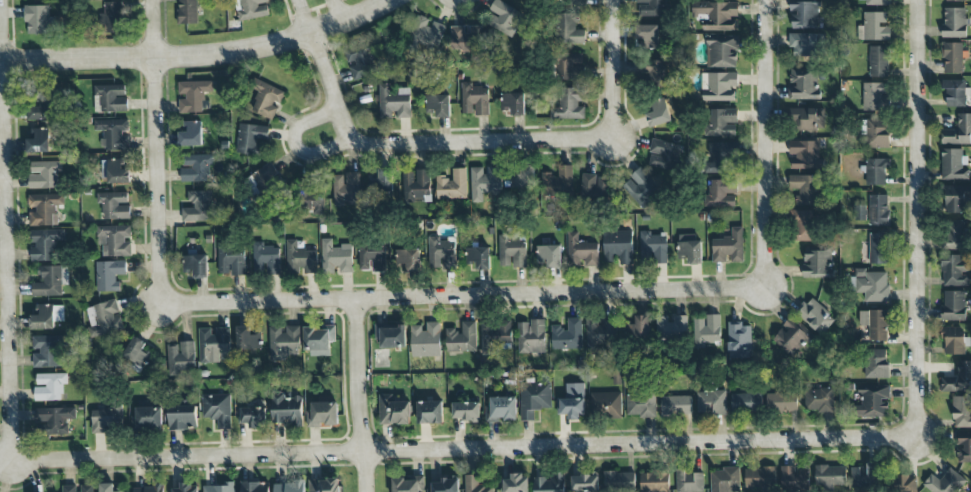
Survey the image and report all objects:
road: (470, 0)
building: (953, 0)
building: (574, 2)
building: (876, 2)
road: (322, 8)
building: (650, 8)
building: (251, 9)
building: (188, 11)
road: (335, 12)
road: (303, 15)
building: (715, 15)
building: (804, 15)
building: (113, 17)
road: (305, 17)
building: (502, 17)
building: (36, 19)
road: (289, 20)
building: (954, 22)
building: (874, 26)
building: (567, 29)
building: (427, 32)
building: (647, 37)
building: (468, 41)
building: (806, 44)
building: (721, 51)
road: (203, 56)
building: (952, 58)
building: (362, 60)
building: (878, 61)
building: (569, 66)
road: (619, 69)
building: (652, 73)
building: (802, 84)
building: (720, 87)
building: (955, 93)
building: (192, 95)
building: (873, 96)
building: (112, 97)
building: (266, 99)
building: (474, 99)
building: (394, 103)
building: (513, 103)
building: (569, 104)
building: (439, 105)
building: (38, 110)
building: (659, 113)
building: (807, 119)
building: (721, 123)
road: (485, 130)
building: (958, 131)
building: (113, 133)
building: (190, 133)
building: (876, 133)
building: (250, 138)
building: (37, 140)
road: (771, 143)
road: (430, 146)
road: (295, 148)
road: (160, 153)
building: (805, 154)
building: (663, 155)
road: (473, 157)
building: (722, 158)
building: (953, 164)
building: (196, 167)
building: (114, 171)
building: (876, 171)
building: (43, 174)
building: (524, 179)
building: (268, 181)
building: (381, 181)
building: (485, 181)
building: (558, 181)
building: (452, 185)
building: (416, 186)
building: (593, 186)
building: (639, 187)
building: (345, 188)
building: (805, 188)
building: (721, 194)
building: (310, 196)
building: (956, 199)
building: (114, 205)
building: (198, 207)
building: (43, 209)
building: (878, 210)
road: (921, 219)
building: (803, 225)
road: (9, 232)
building: (956, 235)
building: (114, 240)
building: (45, 243)
building: (618, 246)
building: (728, 247)
building: (653, 248)
building: (878, 248)
building: (689, 249)
building: (581, 250)
building: (511, 252)
building: (441, 253)
building: (336, 256)
building: (548, 256)
building: (479, 257)
building: (231, 259)
building: (299, 259)
building: (372, 259)
building: (406, 259)
building: (265, 260)
building: (817, 264)
building: (195, 265)
building: (954, 271)
building: (109, 275)
building: (51, 281)
building: (873, 285)
road: (468, 296)
building: (953, 305)
building: (46, 316)
building: (815, 316)
building: (679, 325)
building: (873, 325)
building: (637, 327)
building: (661, 327)
building: (706, 331)
building: (566, 334)
building: (599, 334)
building: (391, 335)
building: (495, 336)
building: (531, 336)
building: (461, 337)
building: (247, 338)
building: (790, 338)
building: (318, 339)
building: (426, 340)
building: (739, 340)
building: (954, 341)
building: (284, 342)
building: (214, 344)
building: (47, 351)
building: (135, 353)
building: (180, 357)
building: (876, 364)
building: (958, 379)
building: (49, 386)
road: (365, 396)
building: (534, 399)
building: (818, 399)
building: (573, 401)
building: (781, 401)
building: (873, 401)
building: (711, 402)
building: (746, 402)
building: (606, 405)
building: (640, 405)
building: (675, 405)
building: (217, 409)
building: (501, 409)
building: (286, 410)
building: (394, 410)
building: (465, 411)
building: (429, 412)
building: (962, 412)
building: (322, 414)
building: (252, 416)
building: (182, 417)
building: (148, 418)
building: (56, 419)
building: (105, 419)
road: (791, 419)
building: (964, 448)
road: (467, 449)
road: (888, 452)
road: (182, 471)
building: (830, 475)
building: (864, 475)
building: (796, 476)
building: (760, 477)
building: (725, 480)
building: (619, 481)
building: (689, 481)
building: (655, 482)
building: (944, 482)
building: (514, 483)
building: (550, 483)
building: (585, 483)
building: (407, 484)
building: (445, 484)
building: (475, 484)
building: (905, 484)
building: (324, 485)
building: (289, 486)
building: (107, 487)
building: (218, 487)
building: (253, 487)
building: (78, 488)
building: (185, 488)
building: (148, 489)

